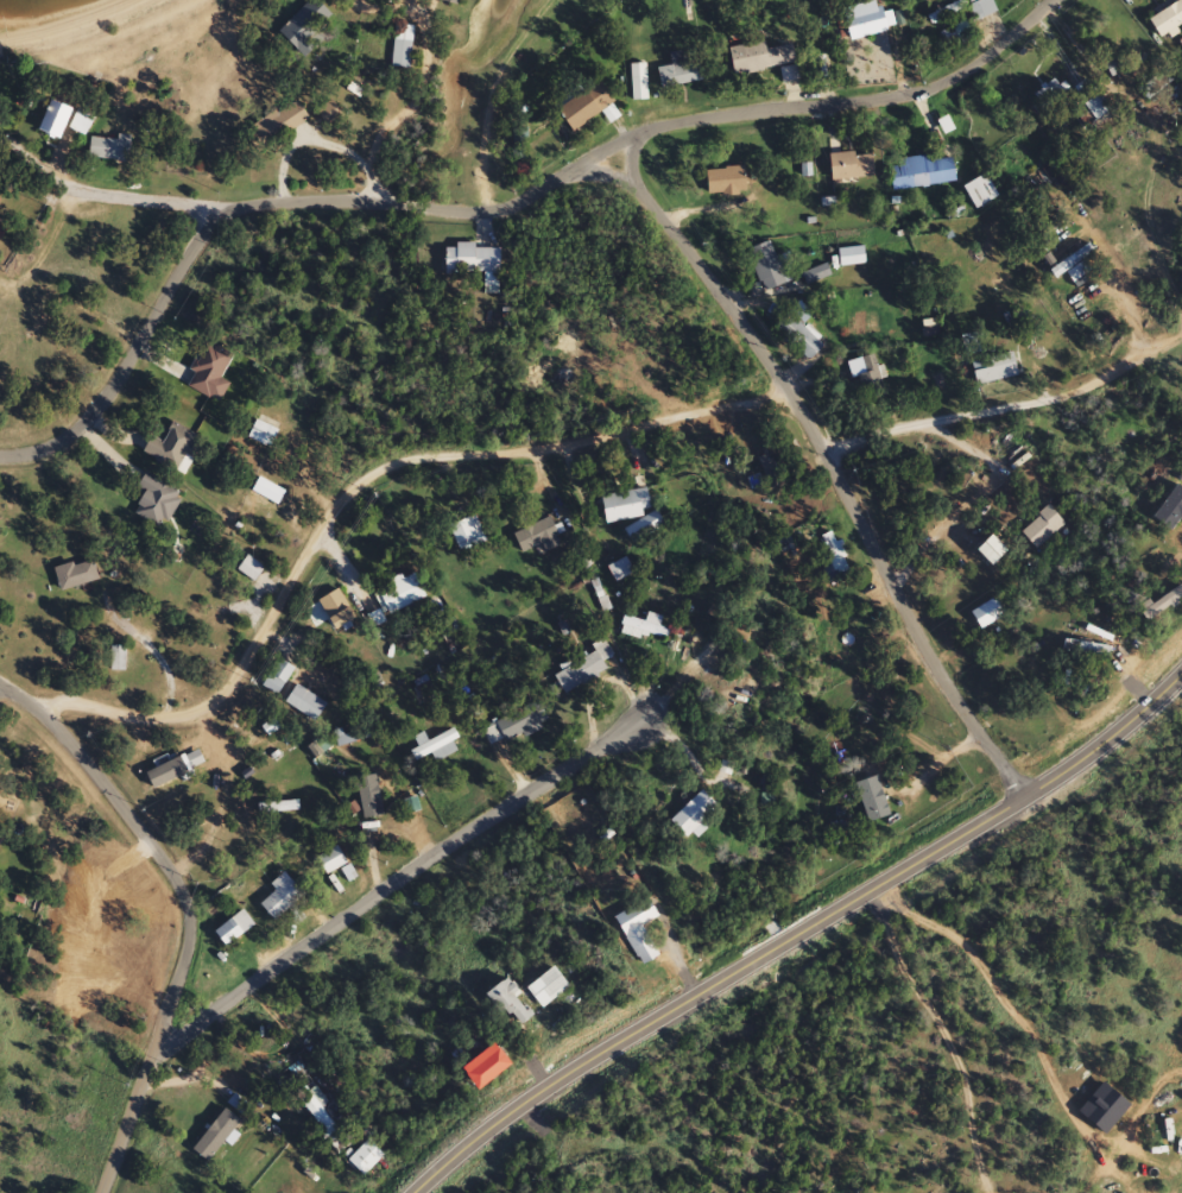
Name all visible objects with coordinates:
building: (978, 8)
building: (944, 13)
building: (1168, 20)
building: (865, 24)
building: (305, 27)
building: (954, 33)
building: (402, 46)
building: (759, 57)
building: (678, 71)
building: (637, 82)
road: (365, 97)
building: (1073, 100)
building: (584, 107)
building: (329, 113)
building: (53, 115)
building: (283, 121)
building: (80, 124)
building: (108, 149)
building: (851, 166)
building: (921, 172)
building: (725, 181)
road: (138, 195)
road: (485, 213)
building: (1, 231)
building: (472, 259)
building: (1072, 261)
building: (767, 267)
building: (799, 333)
building: (994, 370)
building: (210, 372)
building: (867, 378)
road: (1007, 406)
building: (263, 435)
building: (172, 448)
road: (1031, 455)
road: (826, 466)
road: (355, 481)
building: (157, 501)
building: (626, 505)
building: (644, 528)
building: (1043, 530)
building: (538, 537)
building: (988, 548)
building: (836, 558)
building: (249, 569)
building: (620, 570)
building: (75, 575)
building: (402, 593)
building: (1161, 606)
building: (329, 611)
building: (986, 614)
building: (1087, 649)
building: (116, 658)
building: (583, 668)
building: (277, 677)
road: (6, 692)
building: (305, 705)
road: (647, 707)
building: (522, 724)
building: (435, 747)
building: (696, 815)
building: (331, 860)
building: (280, 897)
road: (359, 901)
road: (182, 911)
building: (234, 929)
building: (639, 933)
road: (796, 933)
building: (549, 989)
building: (512, 1005)
building: (487, 1069)
road: (1125, 1128)
building: (364, 1160)

